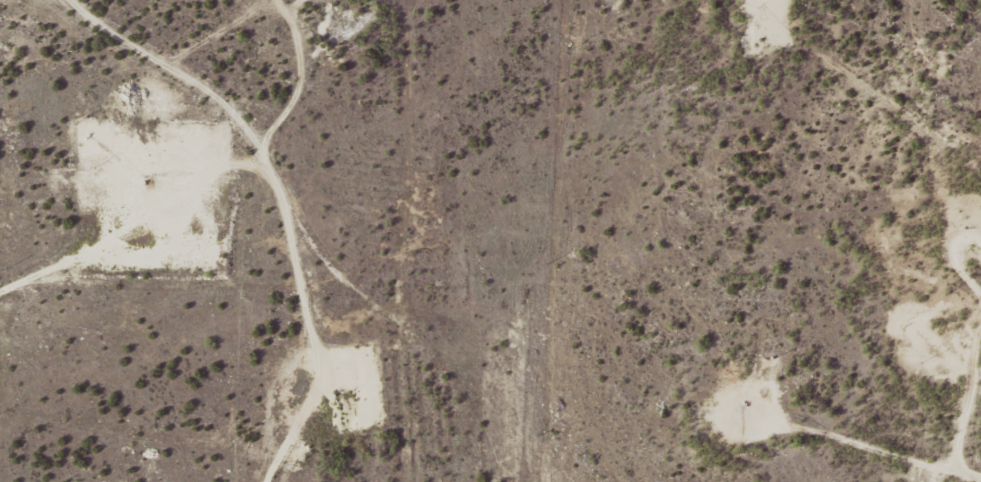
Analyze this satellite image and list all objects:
road: (285, 211)

